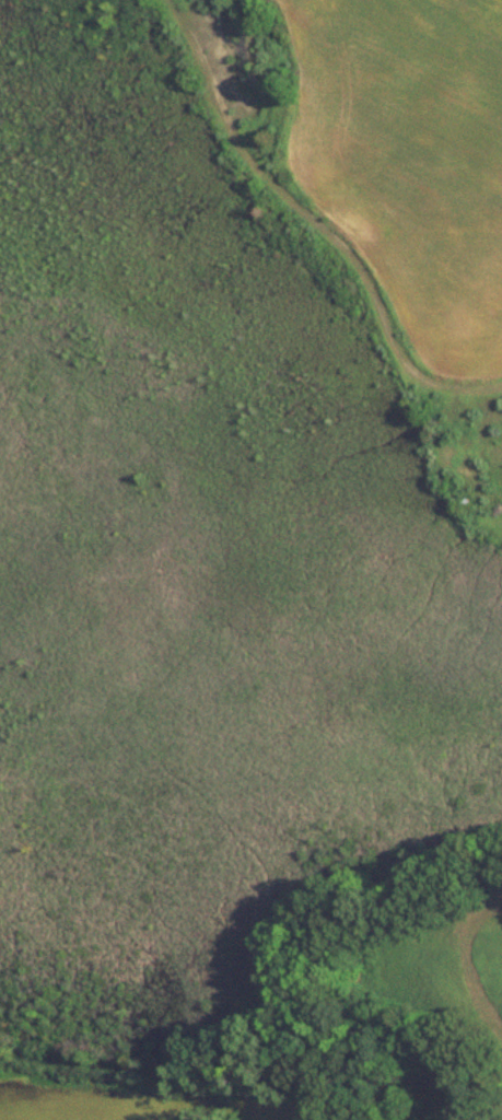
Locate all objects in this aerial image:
road: (311, 223)

